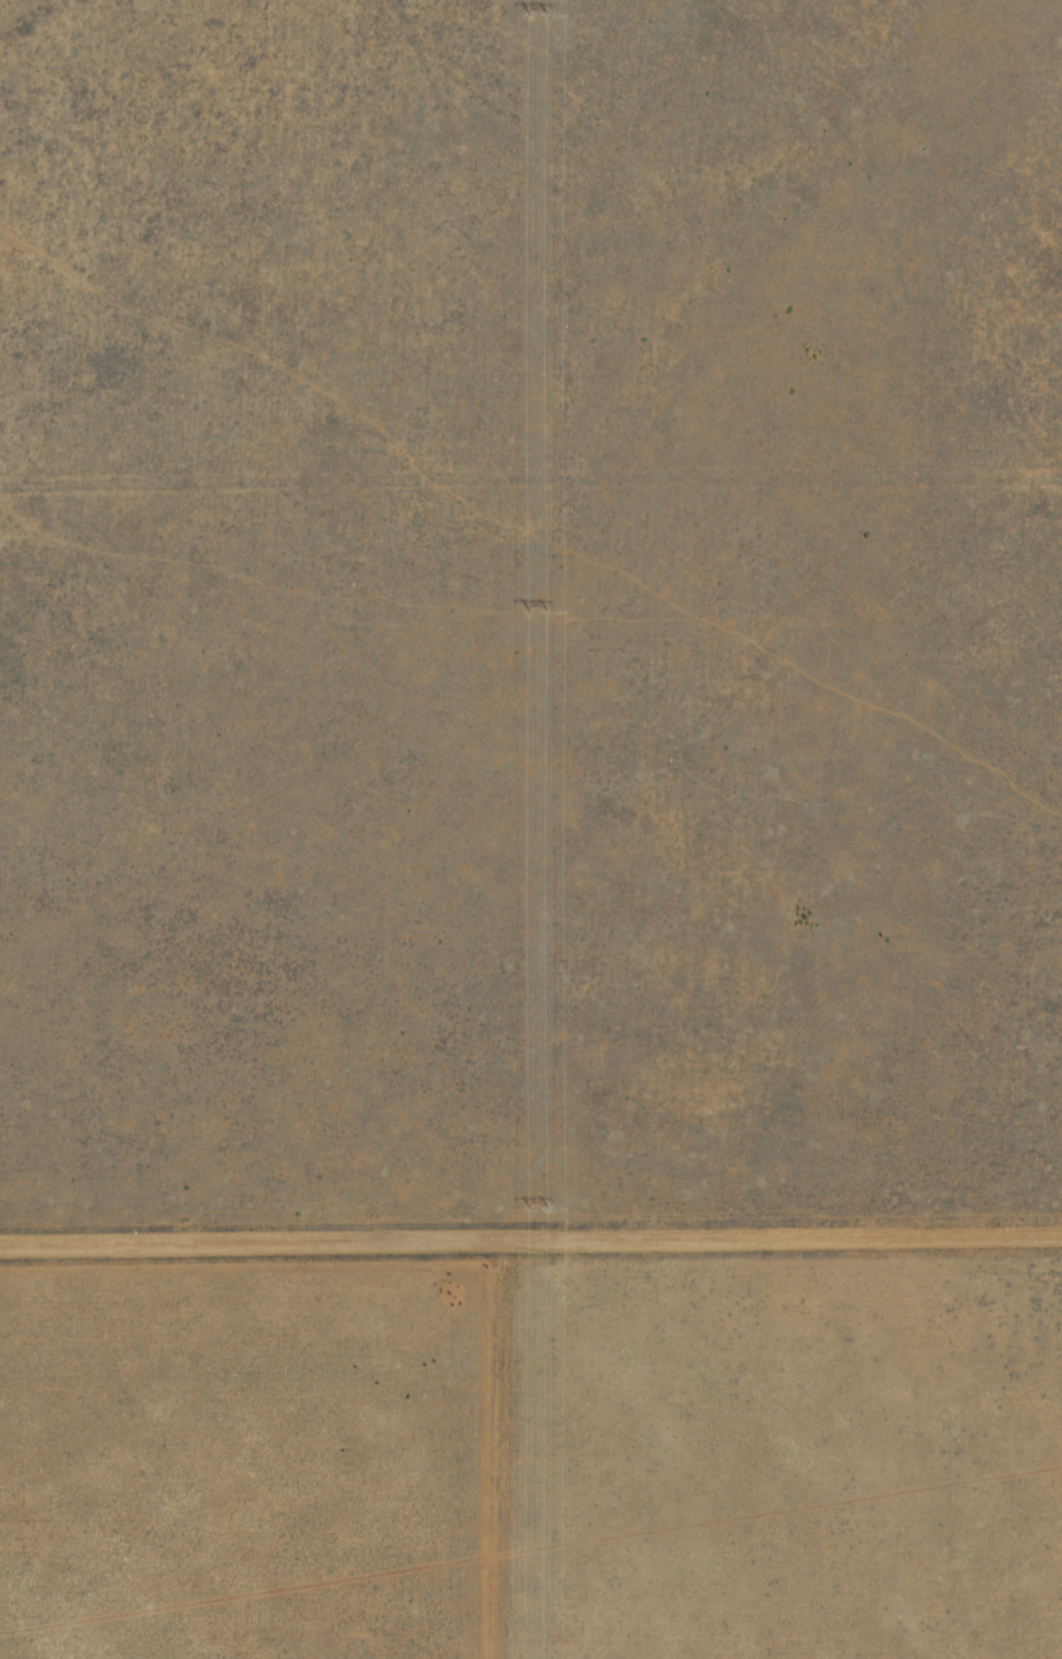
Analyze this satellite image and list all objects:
power tower: (536, 11)
power tower: (539, 610)
power tower: (538, 1208)
road: (531, 1246)

